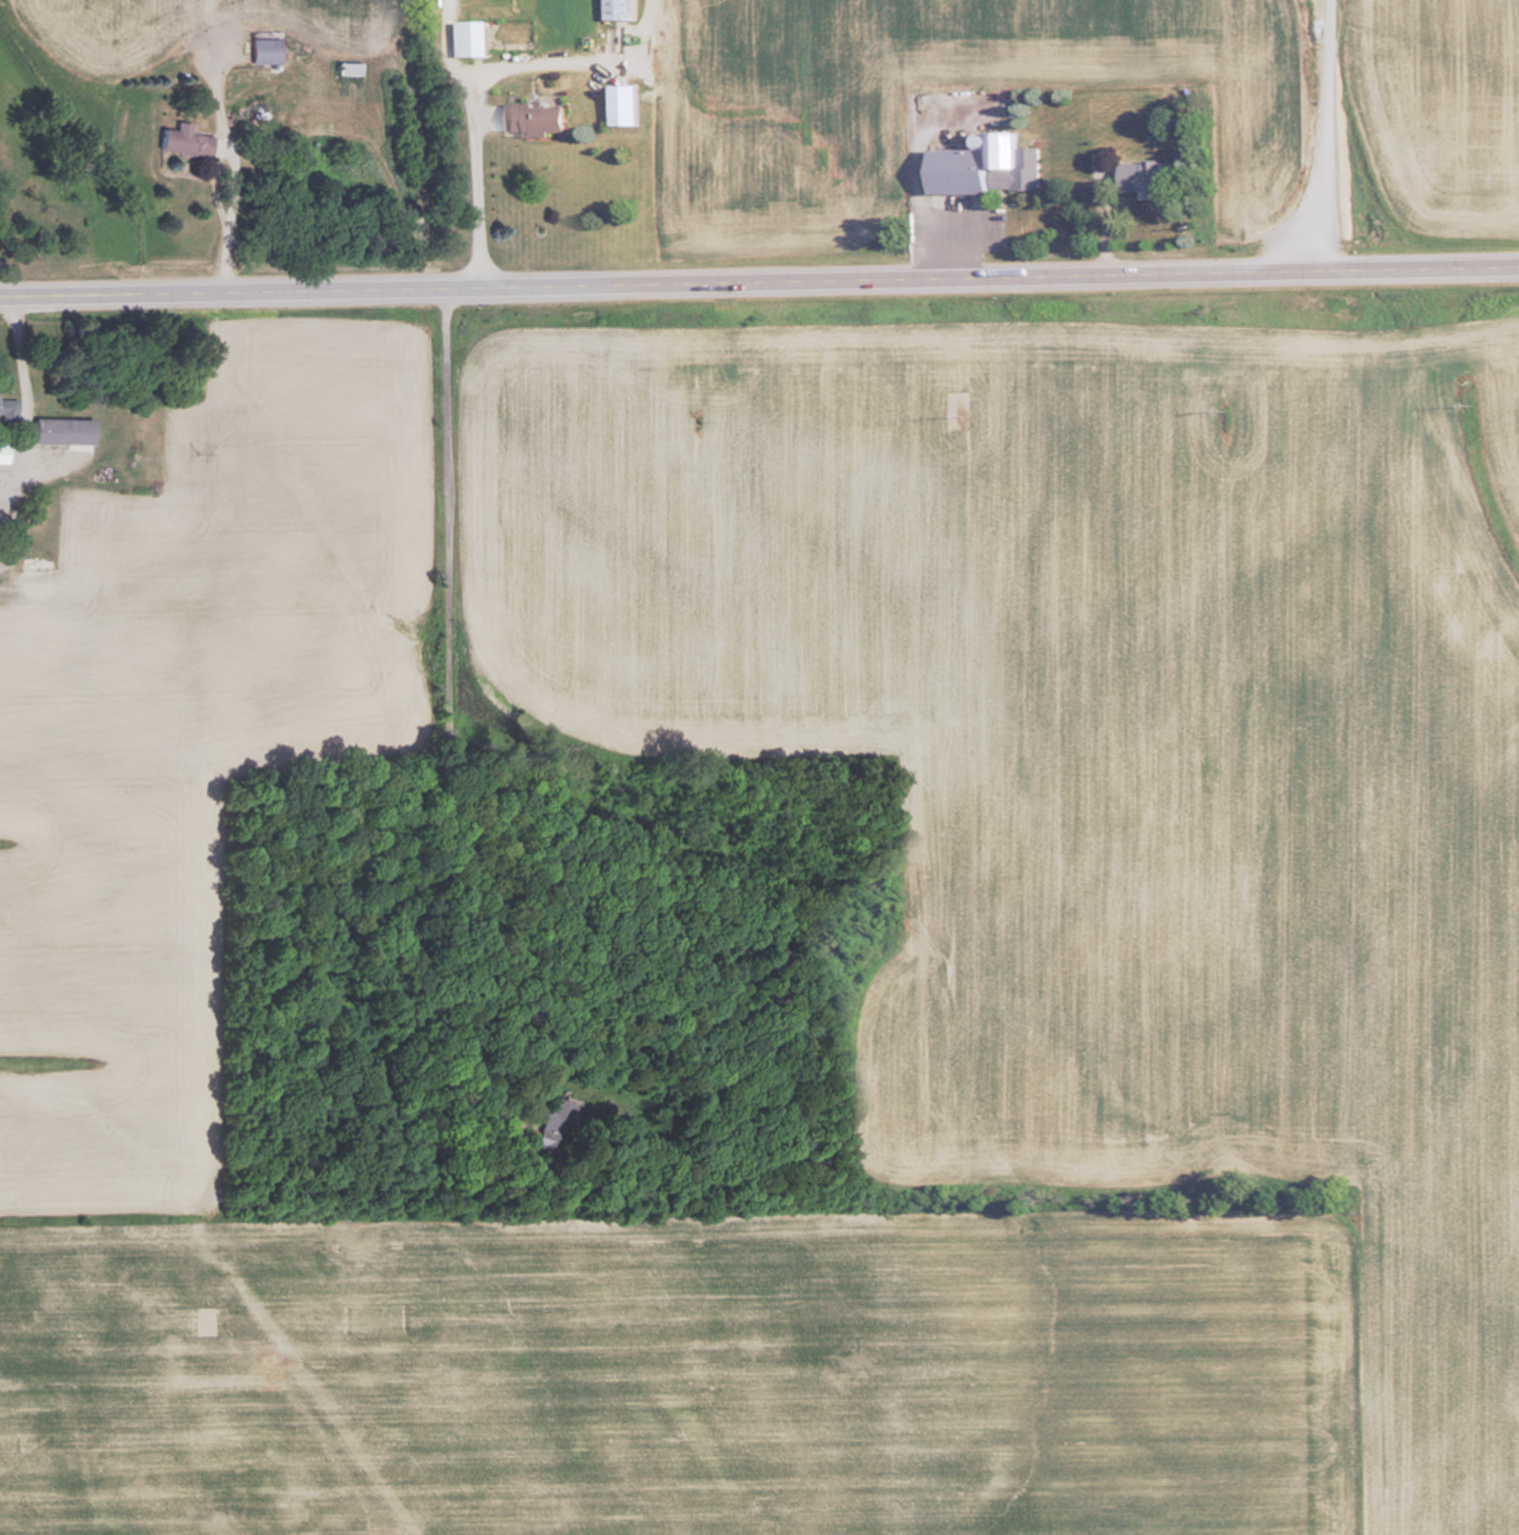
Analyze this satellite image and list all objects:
building: (616, 10)
building: (465, 38)
road: (444, 48)
building: (261, 50)
road: (572, 60)
building: (345, 68)
building: (620, 106)
building: (531, 118)
building: (181, 140)
building: (980, 165)
road: (913, 171)
building: (1139, 176)
road: (476, 190)
road: (759, 286)
road: (27, 381)
building: (6, 404)
building: (59, 429)
building: (1, 454)
building: (31, 576)

